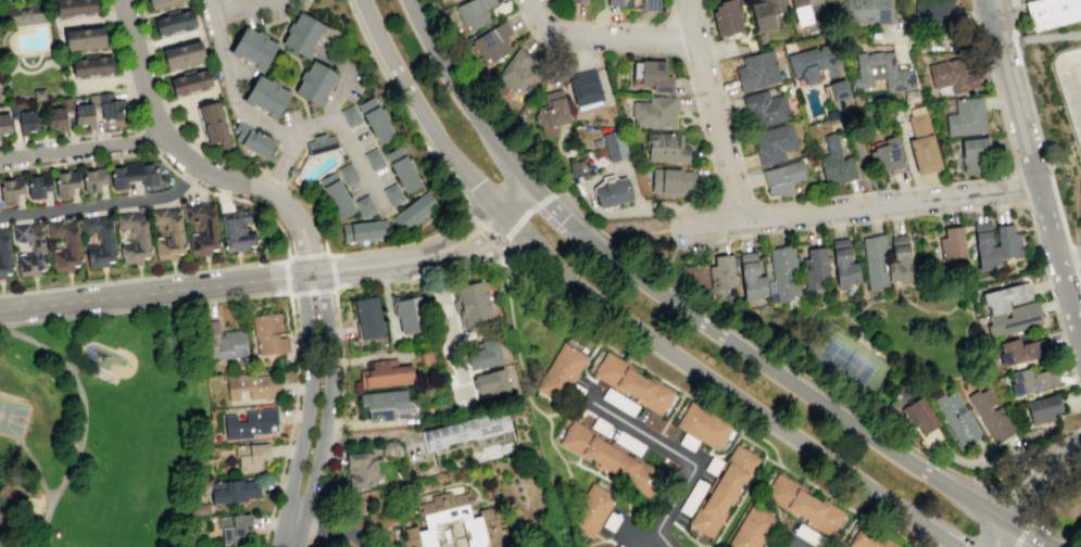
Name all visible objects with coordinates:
road: (5, 0)
building: (575, 1)
road: (996, 1)
road: (12, 2)
building: (162, 2)
building: (614, 2)
building: (644, 3)
road: (263, 4)
road: (103, 5)
building: (74, 7)
road: (239, 7)
building: (1078, 7)
road: (1014, 9)
building: (864, 10)
building: (807, 11)
building: (934, 11)
building: (24, 12)
building: (1049, 12)
building: (473, 13)
building: (765, 13)
road: (12, 14)
road: (106, 17)
building: (726, 17)
road: (975, 17)
road: (91, 18)
parking lot: (252, 18)
road: (143, 20)
road: (688, 21)
building: (174, 22)
road: (268, 22)
road: (609, 23)
road: (1014, 27)
road: (282, 28)
road: (264, 31)
building: (302, 35)
road: (669, 36)
building: (84, 38)
road: (602, 38)
road: (1041, 38)
road: (937, 39)
road: (166, 40)
road: (1014, 41)
building: (492, 42)
road: (149, 43)
road: (982, 44)
road: (115, 48)
building: (252, 49)
building: (183, 54)
building: (814, 62)
road: (683, 64)
building: (90, 65)
road: (25, 71)
building: (515, 71)
building: (756, 71)
road: (158, 73)
building: (880, 73)
building: (654, 75)
building: (952, 75)
road: (123, 77)
road: (109, 80)
building: (189, 81)
building: (314, 84)
road: (125, 85)
parking lot: (355, 85)
road: (289, 86)
road: (10, 88)
building: (583, 88)
building: (835, 89)
road: (90, 91)
road: (50, 92)
building: (38, 93)
road: (38, 94)
road: (338, 94)
building: (264, 97)
road: (37, 98)
road: (301, 99)
road: (465, 100)
road: (180, 101)
road: (167, 104)
building: (367, 104)
building: (110, 106)
road: (131, 107)
road: (400, 107)
building: (764, 109)
building: (916, 110)
building: (86, 111)
road: (240, 111)
building: (523, 111)
building: (653, 111)
building: (551, 112)
building: (55, 113)
building: (831, 114)
parking lot: (294, 115)
building: (350, 116)
building: (966, 116)
building: (24, 118)
road: (40, 120)
building: (4, 122)
building: (213, 123)
building: (919, 124)
building: (378, 125)
road: (179, 127)
building: (239, 130)
road: (304, 130)
road: (197, 131)
road: (717, 131)
road: (90, 133)
road: (228, 133)
parking lot: (361, 138)
road: (144, 139)
road: (21, 141)
road: (345, 141)
road: (168, 142)
building: (256, 142)
building: (596, 142)
building: (319, 143)
building: (774, 143)
road: (197, 144)
road: (290, 145)
building: (614, 145)
road: (80, 148)
building: (665, 148)
road: (274, 150)
building: (923, 153)
building: (393, 154)
building: (887, 154)
road: (739, 155)
road: (860, 155)
building: (975, 155)
road: (300, 156)
road: (1011, 156)
road: (93, 157)
building: (374, 160)
road: (231, 161)
building: (835, 163)
road: (264, 166)
road: (910, 166)
building: (575, 168)
road: (1034, 168)
building: (291, 170)
road: (1047, 170)
building: (347, 174)
street lamp: (496, 174)
building: (131, 175)
building: (404, 175)
road: (274, 176)
parking lot: (381, 176)
building: (782, 177)
road: (288, 178)
building: (327, 178)
road: (186, 179)
building: (92, 180)
building: (673, 181)
building: (65, 182)
building: (37, 186)
road: (198, 187)
road: (916, 187)
road: (1018, 188)
building: (10, 189)
parking lot: (356, 190)
road: (894, 190)
building: (612, 192)
road: (870, 192)
building: (391, 193)
road: (732, 193)
building: (338, 198)
building: (427, 201)
road: (103, 203)
building: (364, 206)
road: (531, 207)
road: (867, 207)
road: (645, 208)
road: (311, 212)
road: (946, 212)
road: (558, 213)
building: (408, 214)
street lamp: (532, 214)
street lamp: (528, 220)
road: (478, 222)
building: (210, 228)
street lamp: (850, 228)
building: (236, 230)
building: (364, 230)
building: (175, 232)
road: (639, 233)
street lamp: (500, 234)
building: (140, 238)
road: (671, 238)
road: (498, 239)
building: (106, 240)
road: (503, 241)
building: (1007, 241)
road: (311, 242)
road: (296, 244)
road: (402, 244)
building: (951, 244)
building: (72, 246)
building: (984, 246)
building: (39, 247)
road: (487, 250)
road: (502, 252)
building: (4, 253)
road: (328, 253)
road: (306, 254)
road: (1069, 256)
road: (669, 259)
building: (898, 259)
building: (875, 262)
road: (472, 263)
building: (842, 263)
building: (815, 268)
road: (332, 269)
road: (203, 270)
road: (430, 270)
building: (720, 272)
road: (278, 275)
building: (782, 275)
road: (286, 277)
building: (750, 277)
road: (404, 278)
road: (382, 281)
road: (356, 283)
road: (678, 285)
road: (335, 287)
road: (588, 289)
building: (1025, 290)
road: (311, 292)
road: (387, 297)
road: (893, 297)
building: (1001, 297)
building: (470, 303)
road: (144, 308)
building: (413, 314)
building: (367, 317)
road: (852, 317)
road: (847, 318)
building: (1011, 319)
road: (337, 322)
road: (448, 331)
building: (268, 333)
road: (856, 340)
building: (225, 342)
building: (1018, 351)
building: (482, 354)
road: (369, 355)
building: (426, 357)
road: (586, 360)
road: (341, 361)
park: (842, 362)
road: (77, 368)
building: (560, 372)
building: (385, 374)
building: (1031, 380)
building: (631, 382)
building: (490, 383)
building: (251, 386)
road: (800, 386)
road: (341, 394)
road: (590, 396)
building: (618, 402)
building: (381, 404)
road: (536, 407)
road: (711, 407)
building: (1042, 408)
road: (326, 410)
road: (305, 411)
road: (671, 412)
building: (918, 414)
building: (990, 415)
park: (12, 416)
road: (570, 416)
building: (955, 417)
road: (84, 419)
road: (291, 421)
building: (250, 423)
road: (368, 423)
road: (337, 424)
building: (702, 425)
park: (104, 429)
building: (467, 431)
road: (336, 432)
road: (376, 435)
road: (334, 440)
building: (688, 442)
road: (1032, 447)
building: (388, 448)
road: (727, 450)
building: (250, 455)
road: (680, 456)
building: (609, 458)
road: (771, 461)
road: (35, 467)
building: (360, 470)
road: (327, 474)
road: (1036, 476)
road: (604, 478)
road: (1051, 480)
building: (231, 491)
building: (722, 491)
building: (694, 492)
road: (419, 493)
road: (523, 503)
road: (737, 503)
building: (802, 504)
road: (1030, 507)
building: (200, 508)
building: (443, 509)
building: (590, 510)
road: (412, 511)
road: (316, 519)
building: (611, 521)
traffic signals: (1009, 523)
road: (327, 525)
road: (918, 526)
street lamp: (977, 526)
building: (1078, 526)
building: (232, 527)
road: (620, 529)
building: (751, 529)
building: (481, 530)
road: (636, 535)
building: (807, 535)
road: (1003, 535)
road: (391, 537)
building: (419, 537)
building: (868, 538)
road: (452, 539)
road: (1019, 539)
road: (1034, 539)
road: (602, 540)
road: (310, 542)
road: (593, 542)
building: (438, 546)
building: (618, 546)
road: (700, 546)
building: (762, 546)
road: (792, 546)

